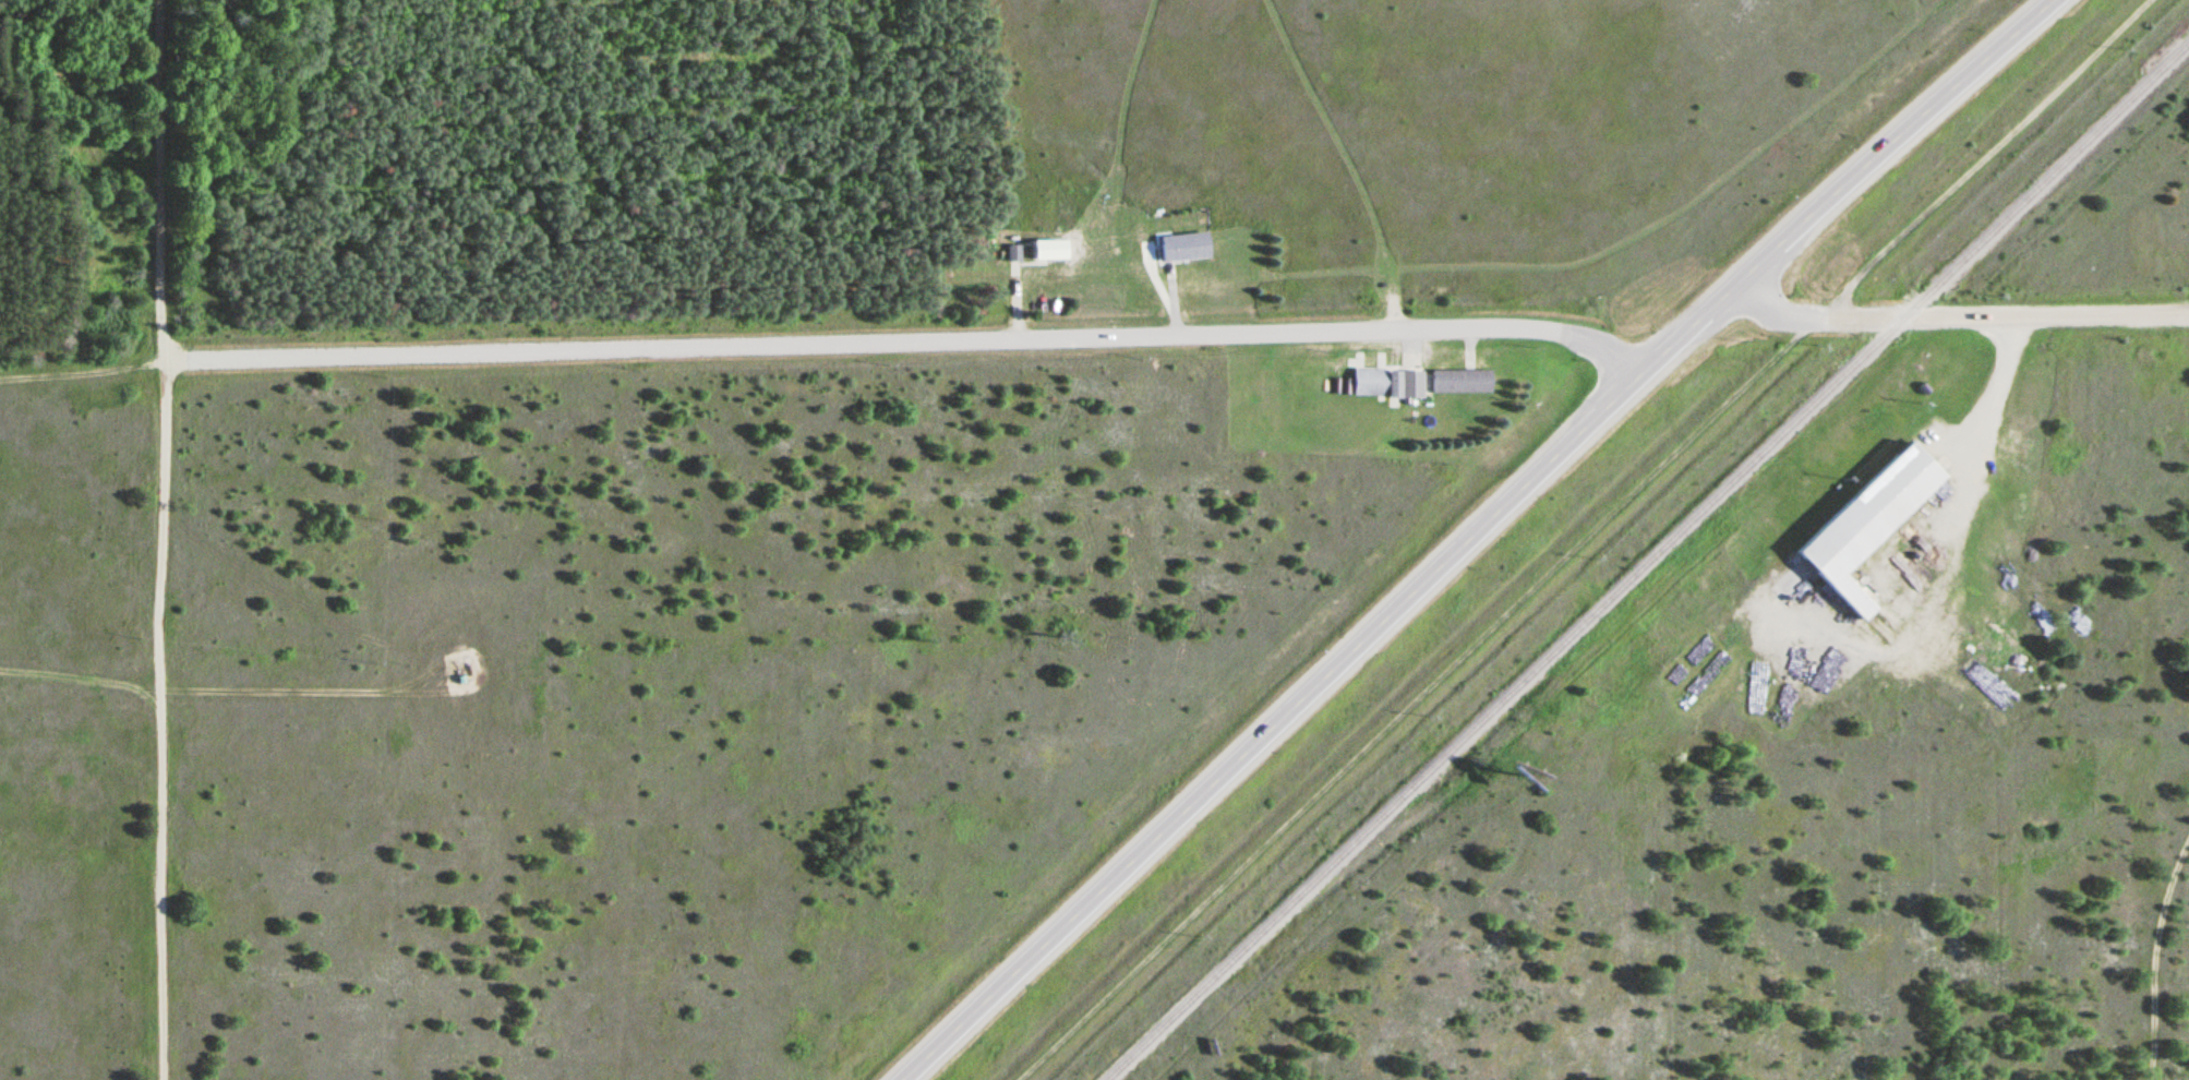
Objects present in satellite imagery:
road: (1983, 160)
building: (1183, 248)
building: (1012, 253)
road: (1769, 309)
road: (2007, 316)
road: (1816, 321)
road: (905, 344)
road: (81, 372)
building: (1460, 383)
building: (1387, 384)
building: (1866, 519)
road: (1472, 535)
road: (1926, 536)
road: (158, 539)
railway: (1648, 561)
petroleum well: (462, 674)
building: (1897, 684)
road: (77, 687)
road: (1396, 692)
road: (396, 693)
road: (2152, 955)

